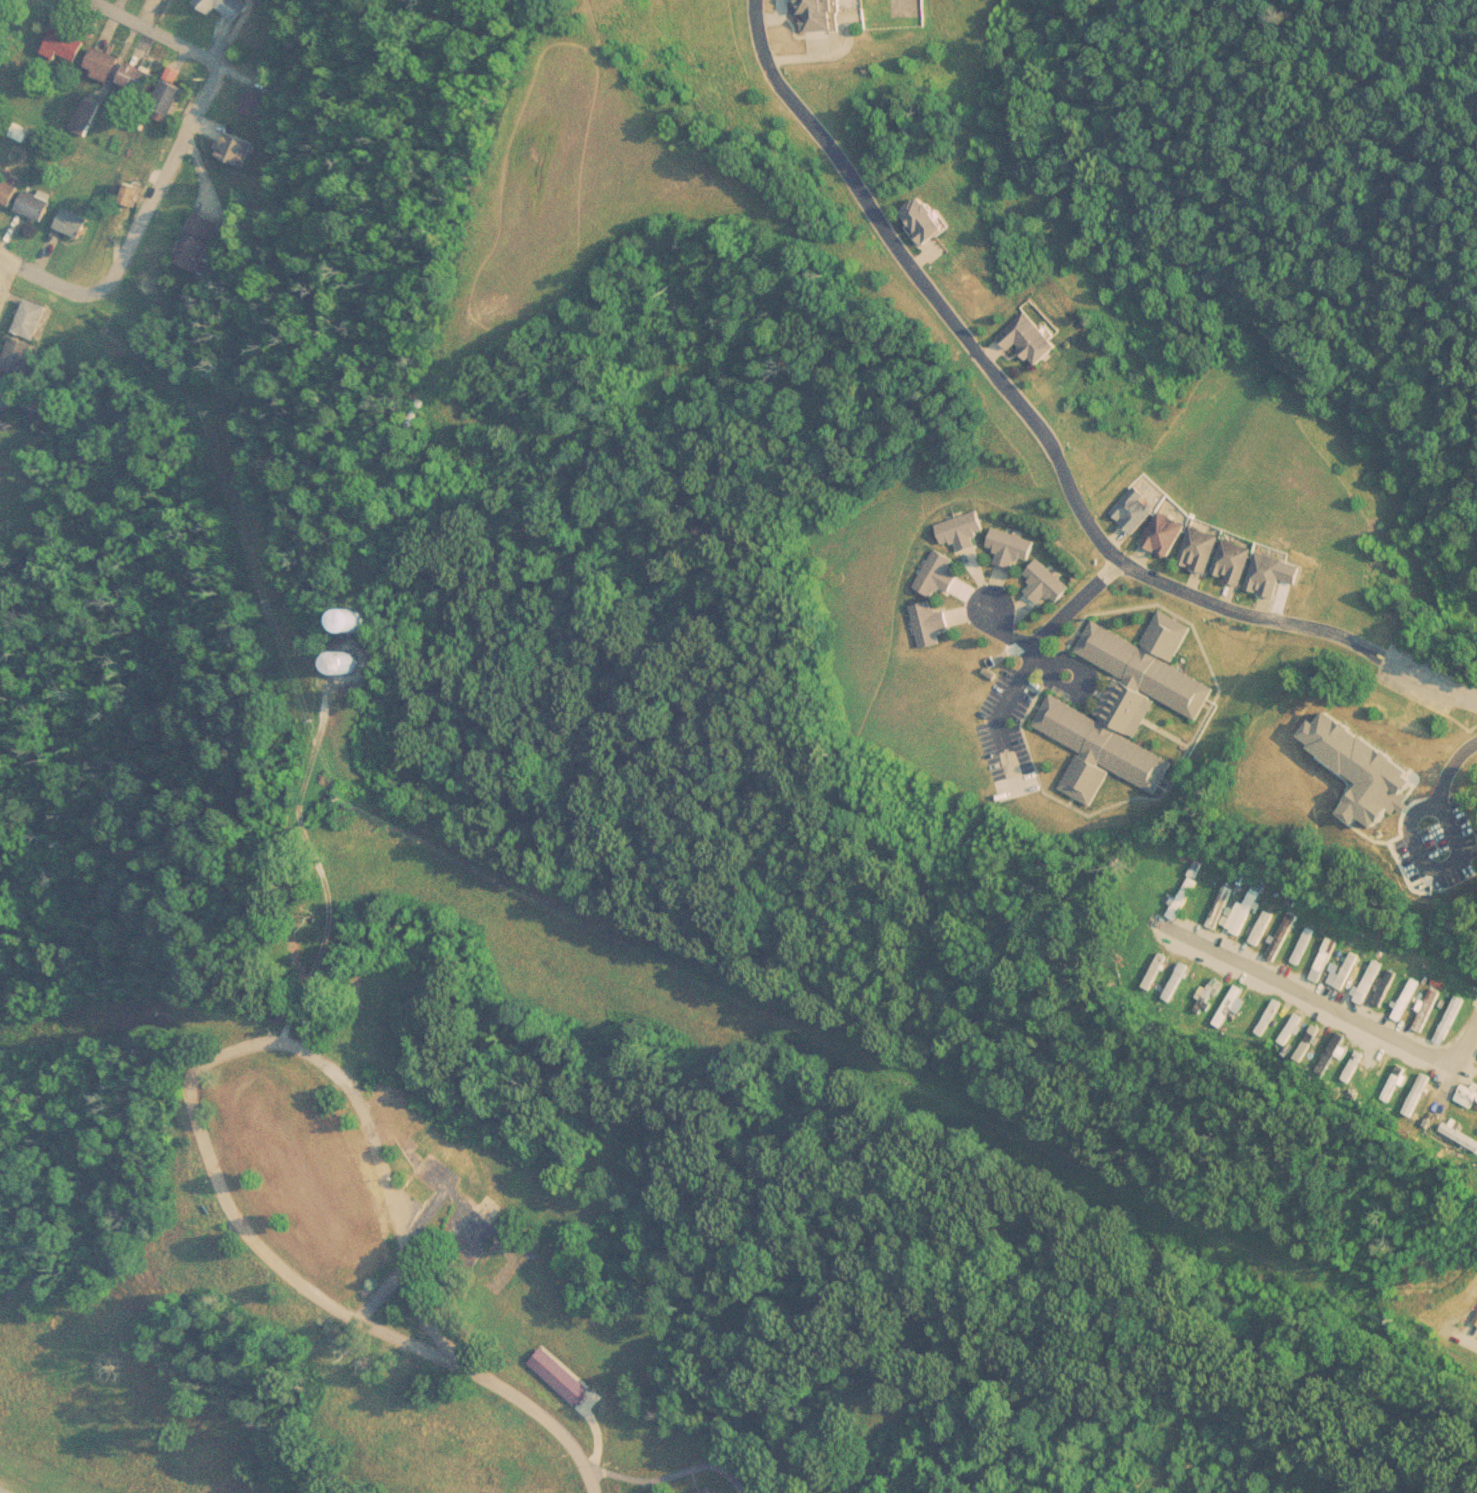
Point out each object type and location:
building: (0, 0)
building: (227, 6)
building: (818, 15)
road: (150, 33)
building: (67, 44)
building: (104, 64)
building: (139, 78)
building: (172, 92)
building: (257, 104)
building: (238, 149)
road: (159, 184)
building: (8, 191)
building: (133, 194)
building: (36, 204)
building: (927, 218)
building: (74, 222)
building: (199, 241)
road: (4, 273)
road: (45, 282)
building: (33, 318)
building: (1031, 339)
building: (20, 355)
building: (7, 391)
building: (2, 423)
road: (1043, 438)
building: (1, 478)
building: (1136, 509)
building: (962, 530)
building: (1166, 534)
building: (1013, 546)
building: (1219, 555)
building: (939, 575)
building: (1048, 583)
building: (352, 622)
building: (931, 623)
road: (1031, 657)
building: (1127, 707)
building: (1417, 836)
building: (1185, 897)
building: (1222, 902)
building: (1247, 912)
building: (1264, 927)
building: (1286, 934)
building: (1306, 945)
building: (1327, 960)
building: (1349, 969)
building: (1387, 988)
road: (1308, 992)
building: (1409, 999)
building: (1429, 1010)
building: (1273, 1017)
building: (1452, 1019)
building: (1310, 1042)
road: (1455, 1066)
building: (1375, 1070)
building: (1476, 1072)
building: (1397, 1083)
building: (1471, 1091)
building: (1418, 1092)
building: (393, 1122)
building: (1461, 1135)
building: (335, 1161)
building: (284, 1174)
building: (422, 1191)
road: (328, 1305)
road: (544, 1423)
road: (6, 1490)
building: (703, 1491)

